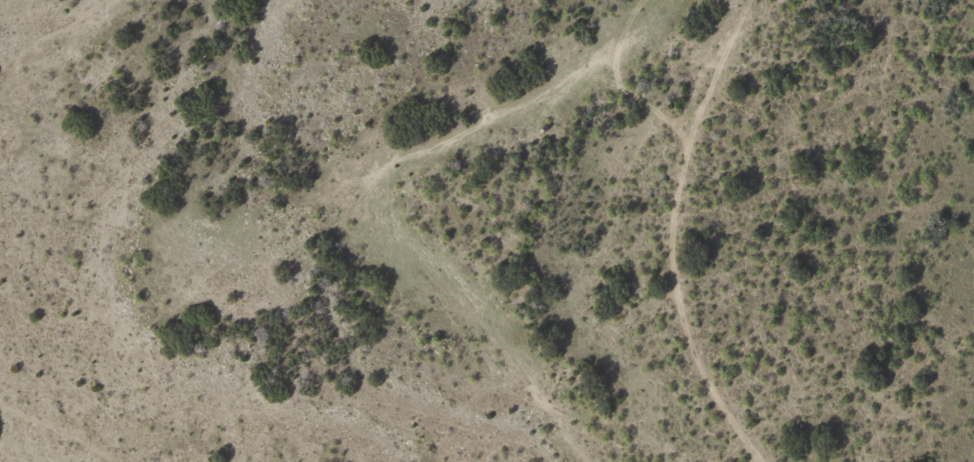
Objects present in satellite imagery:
road: (679, 235)

